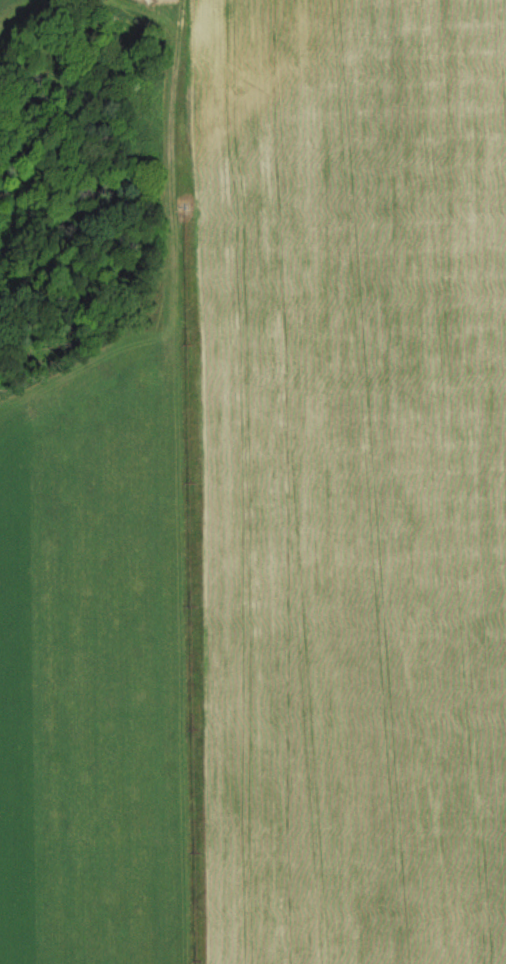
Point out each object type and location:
crop: (171, 9)
crop: (353, 480)

